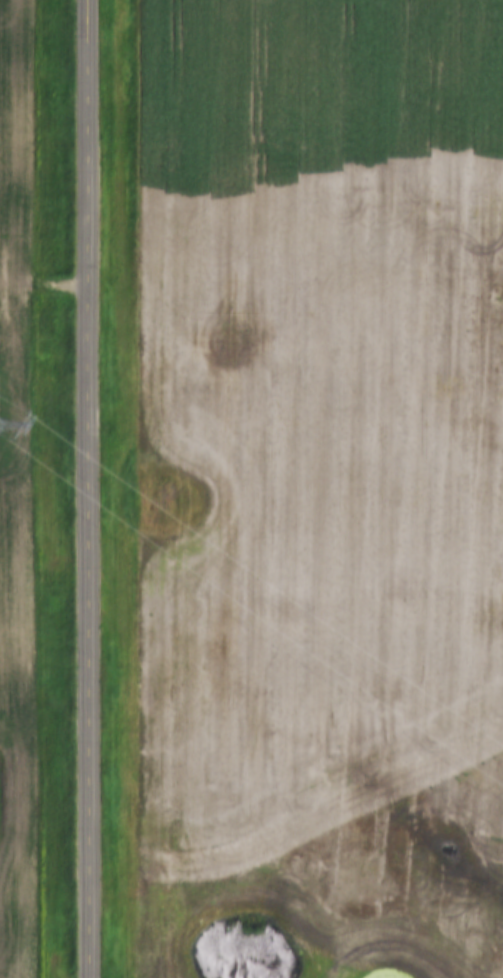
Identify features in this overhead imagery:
road: (88, 489)

